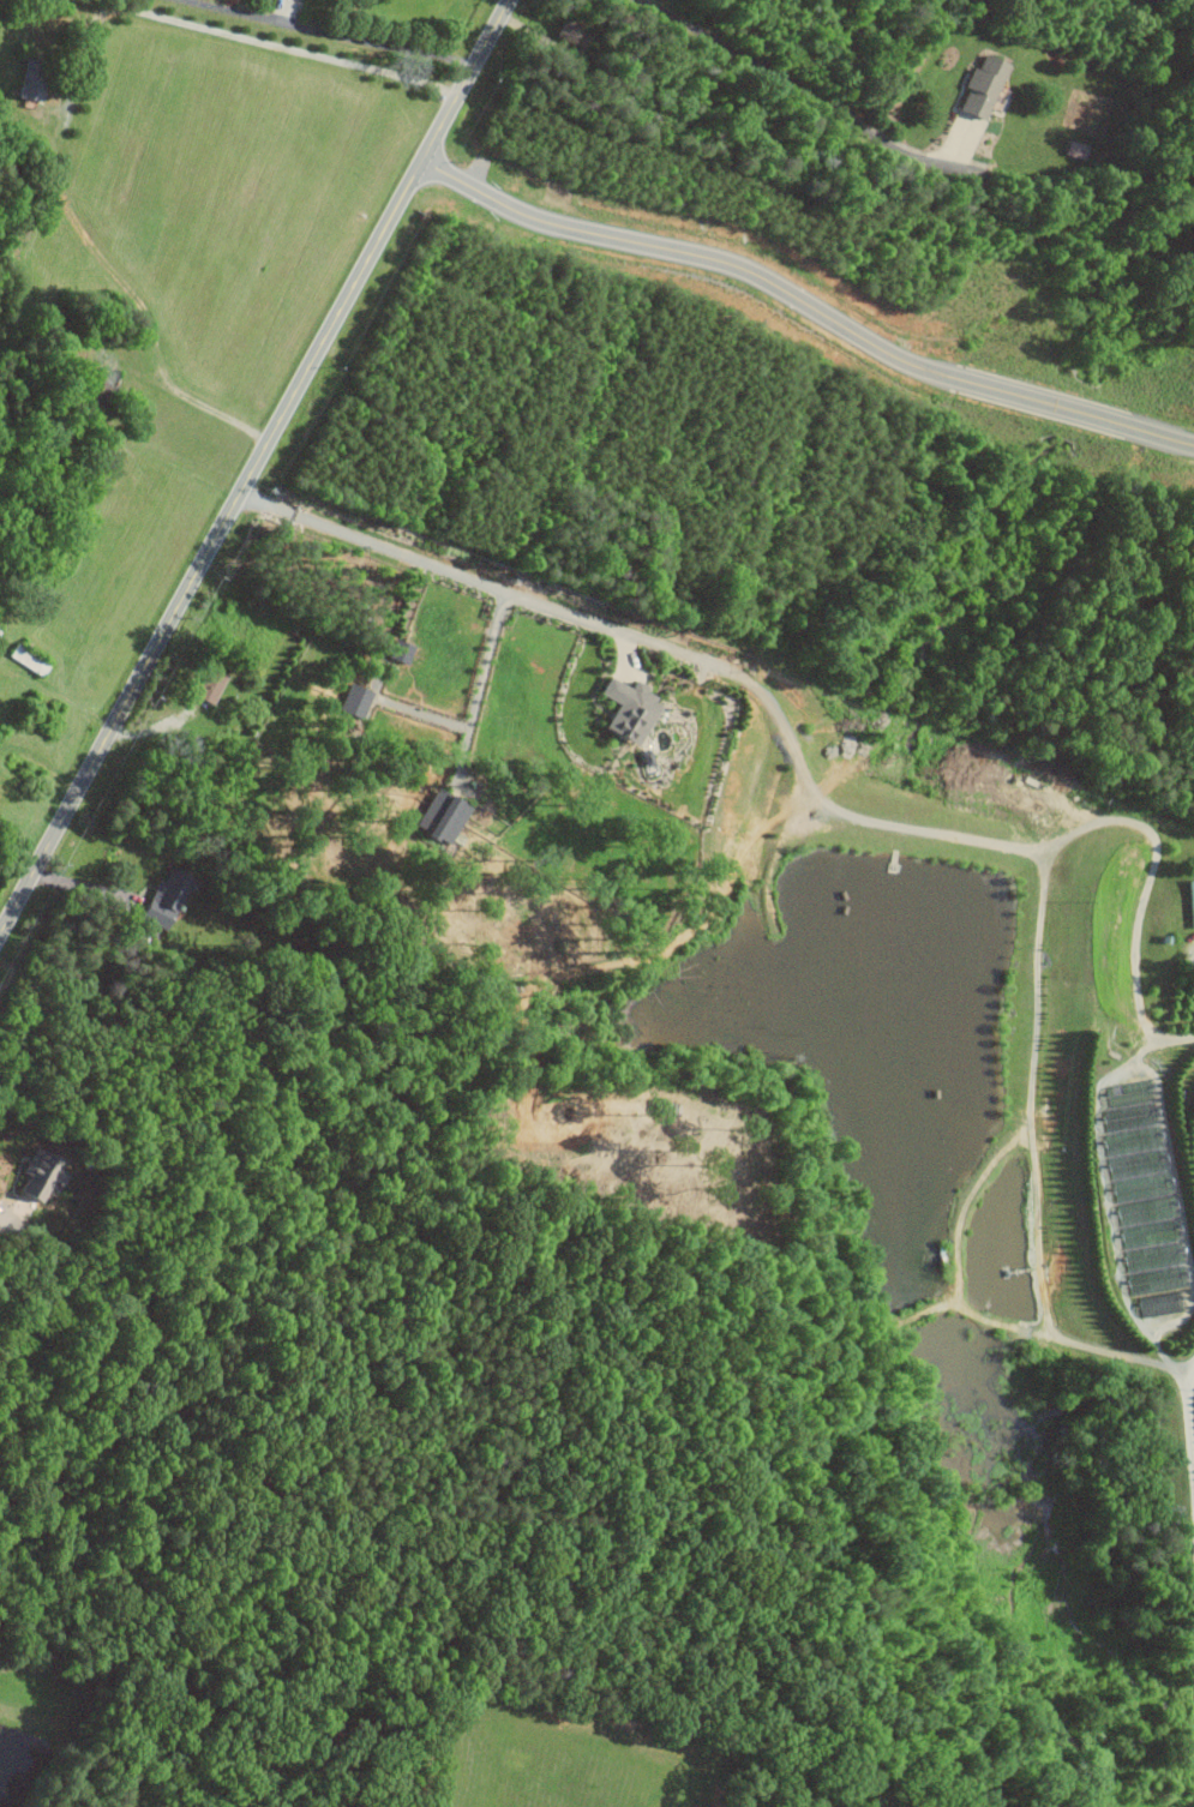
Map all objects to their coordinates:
road: (233, 34)
road: (376, 42)
building: (37, 78)
road: (796, 84)
building: (977, 88)
building: (1073, 149)
road: (806, 300)
road: (204, 402)
park: (794, 438)
road: (254, 467)
road: (481, 682)
building: (214, 683)
building: (358, 698)
building: (635, 708)
road: (802, 762)
road: (88, 887)
building: (170, 894)
building: (1188, 901)
building: (46, 1172)
building: (1140, 1196)
road: (1142, 1326)
road: (1159, 1355)
road: (1187, 1442)
dam: (54, 1715)
dam: (113, 1717)

